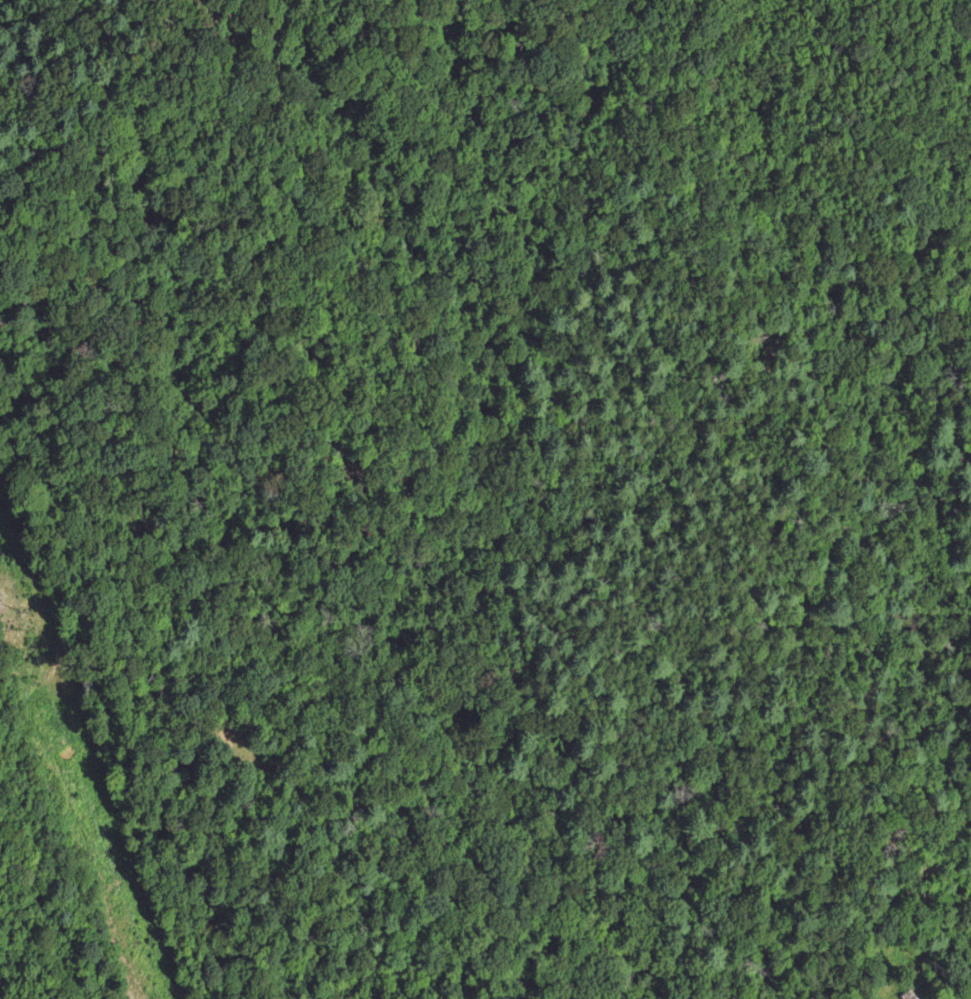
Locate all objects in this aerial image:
building: (906, 996)

